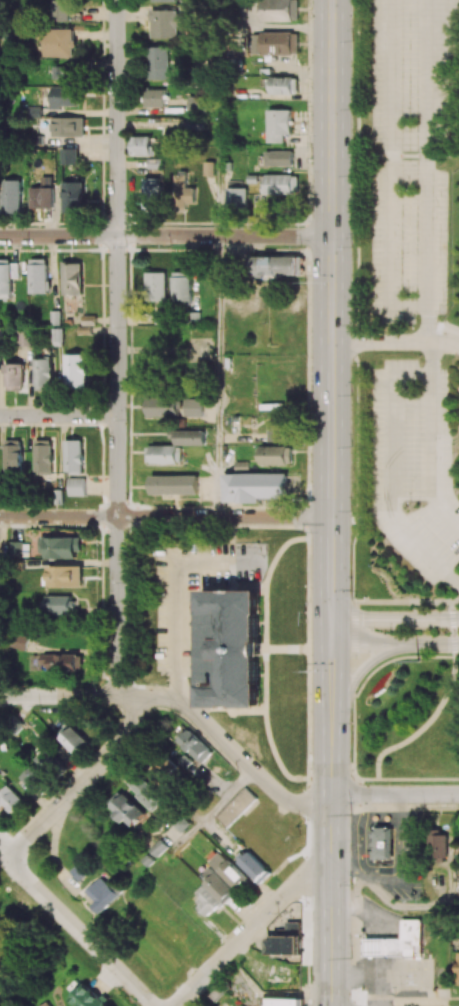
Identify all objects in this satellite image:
building: (163, 0)
building: (60, 10)
building: (280, 10)
building: (166, 23)
building: (58, 43)
building: (275, 43)
building: (158, 63)
building: (63, 73)
building: (285, 85)
building: (66, 97)
building: (154, 98)
building: (195, 104)
building: (34, 112)
building: (193, 124)
building: (278, 125)
building: (67, 127)
building: (141, 146)
building: (69, 156)
road: (218, 157)
building: (279, 158)
parking lot: (412, 162)
building: (154, 163)
building: (208, 168)
road: (430, 170)
road: (389, 173)
building: (281, 184)
building: (184, 189)
building: (152, 193)
building: (12, 196)
building: (42, 197)
building: (72, 197)
building: (237, 199)
road: (165, 236)
building: (276, 266)
building: (7, 276)
building: (38, 276)
building: (72, 278)
building: (156, 286)
building: (181, 289)
building: (55, 318)
road: (444, 328)
building: (0, 334)
building: (24, 337)
building: (57, 337)
road: (395, 341)
road: (118, 348)
road: (434, 359)
road: (330, 369)
building: (75, 371)
building: (43, 374)
building: (14, 376)
road: (218, 376)
road: (388, 389)
road: (358, 390)
building: (163, 407)
building: (194, 407)
road: (59, 416)
building: (278, 430)
building: (188, 437)
building: (163, 454)
building: (13, 455)
building: (277, 455)
building: (43, 456)
building: (73, 456)
parking lot: (416, 467)
building: (174, 484)
building: (76, 487)
building: (255, 487)
road: (165, 517)
building: (62, 547)
building: (20, 549)
road: (177, 592)
road: (394, 601)
building: (62, 604)
traffic signals: (330, 620)
road: (394, 620)
building: (21, 641)
road: (394, 646)
building: (232, 647)
traffic signals: (330, 647)
power tower: (418, 660)
building: (58, 662)
road: (357, 677)
road: (63, 696)
road: (431, 719)
building: (69, 733)
road: (229, 745)
building: (197, 746)
building: (45, 759)
building: (188, 761)
building: (31, 776)
road: (83, 782)
building: (148, 792)
road: (394, 795)
building: (12, 801)
building: (236, 806)
road: (216, 807)
building: (128, 808)
power tower: (352, 818)
building: (384, 842)
building: (441, 846)
building: (160, 848)
road: (236, 863)
building: (255, 867)
building: (229, 871)
road: (331, 872)
building: (79, 873)
building: (218, 886)
building: (104, 894)
road: (386, 900)
building: (208, 901)
road: (249, 929)
building: (291, 929)
road: (82, 935)
building: (398, 942)
building: (284, 945)
building: (458, 969)
building: (88, 998)
building: (285, 1002)
building: (43, 1004)

